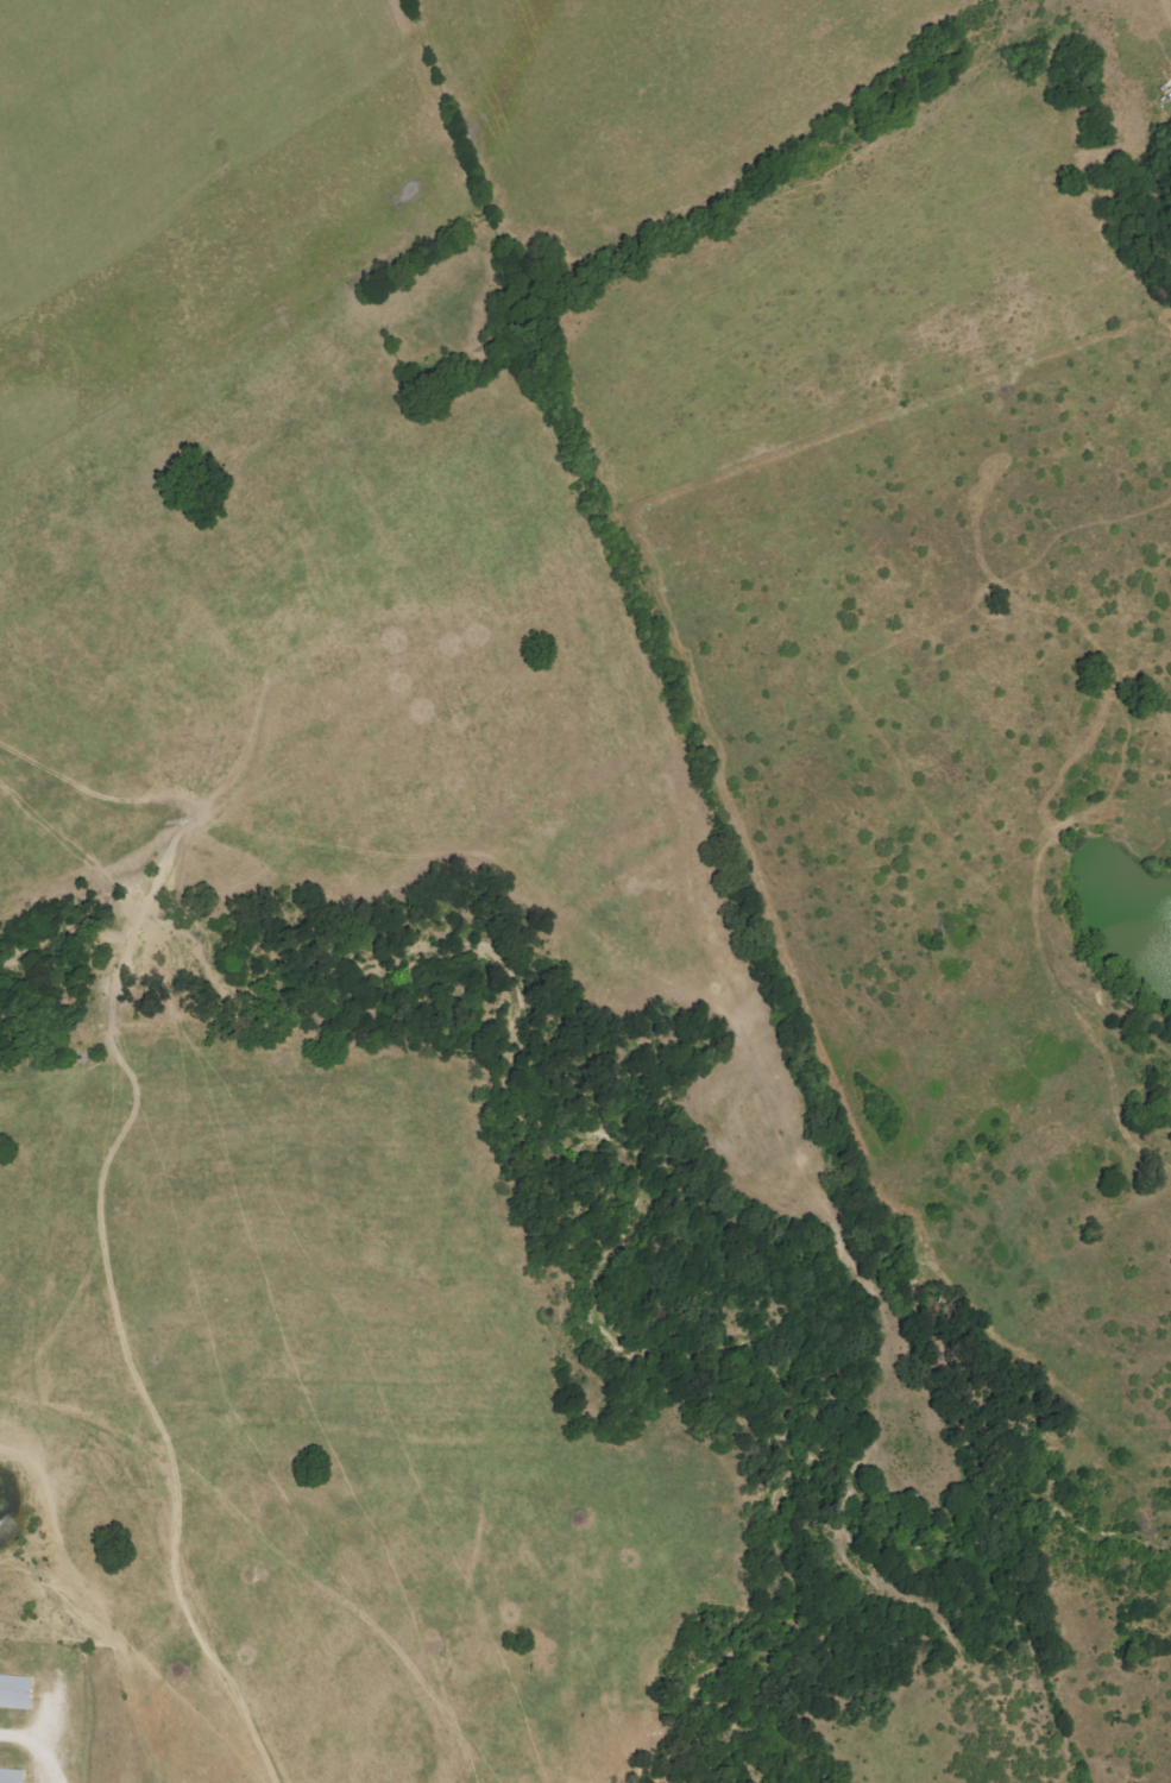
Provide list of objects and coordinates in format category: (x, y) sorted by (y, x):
building: (13, 1687)
road: (34, 1750)
building: (10, 1773)

